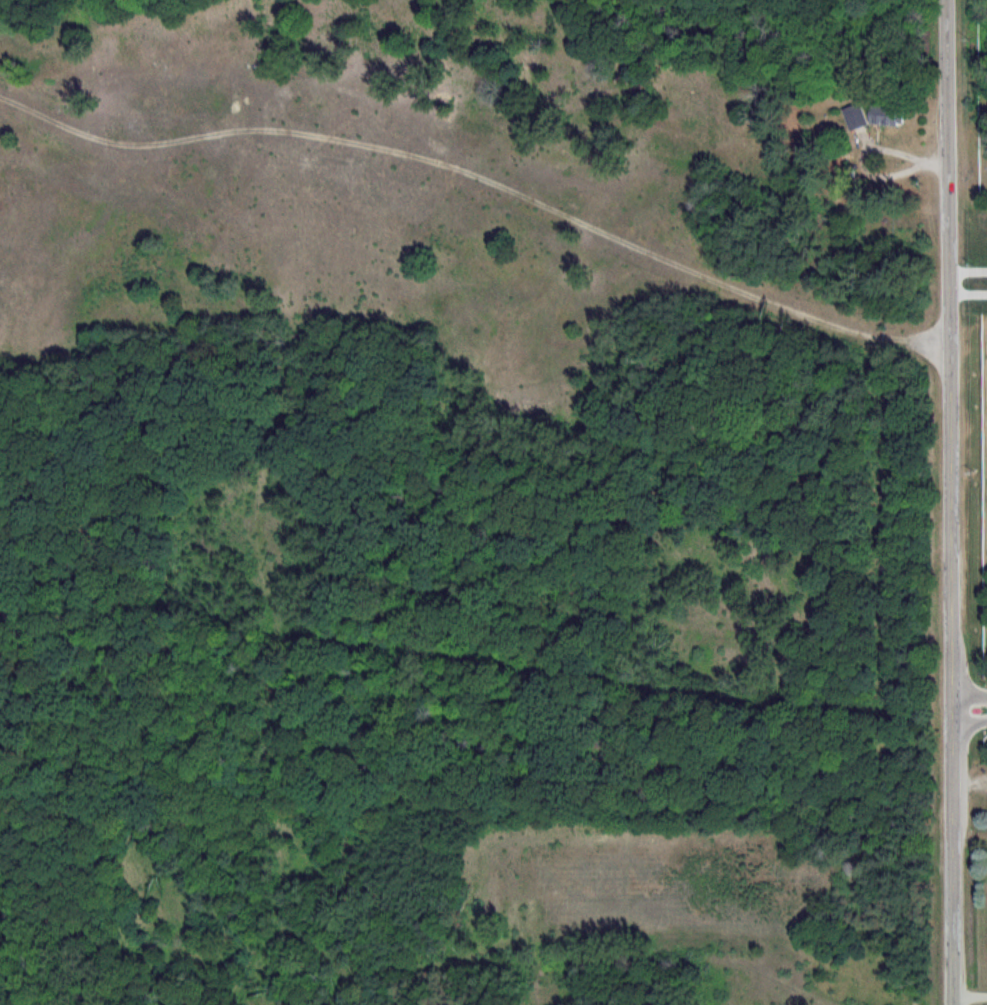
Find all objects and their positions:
building: (893, 116)
building: (862, 118)
road: (136, 144)
road: (617, 237)
park: (955, 289)
road: (953, 502)
road: (971, 708)
road: (273, 804)
road: (973, 993)

